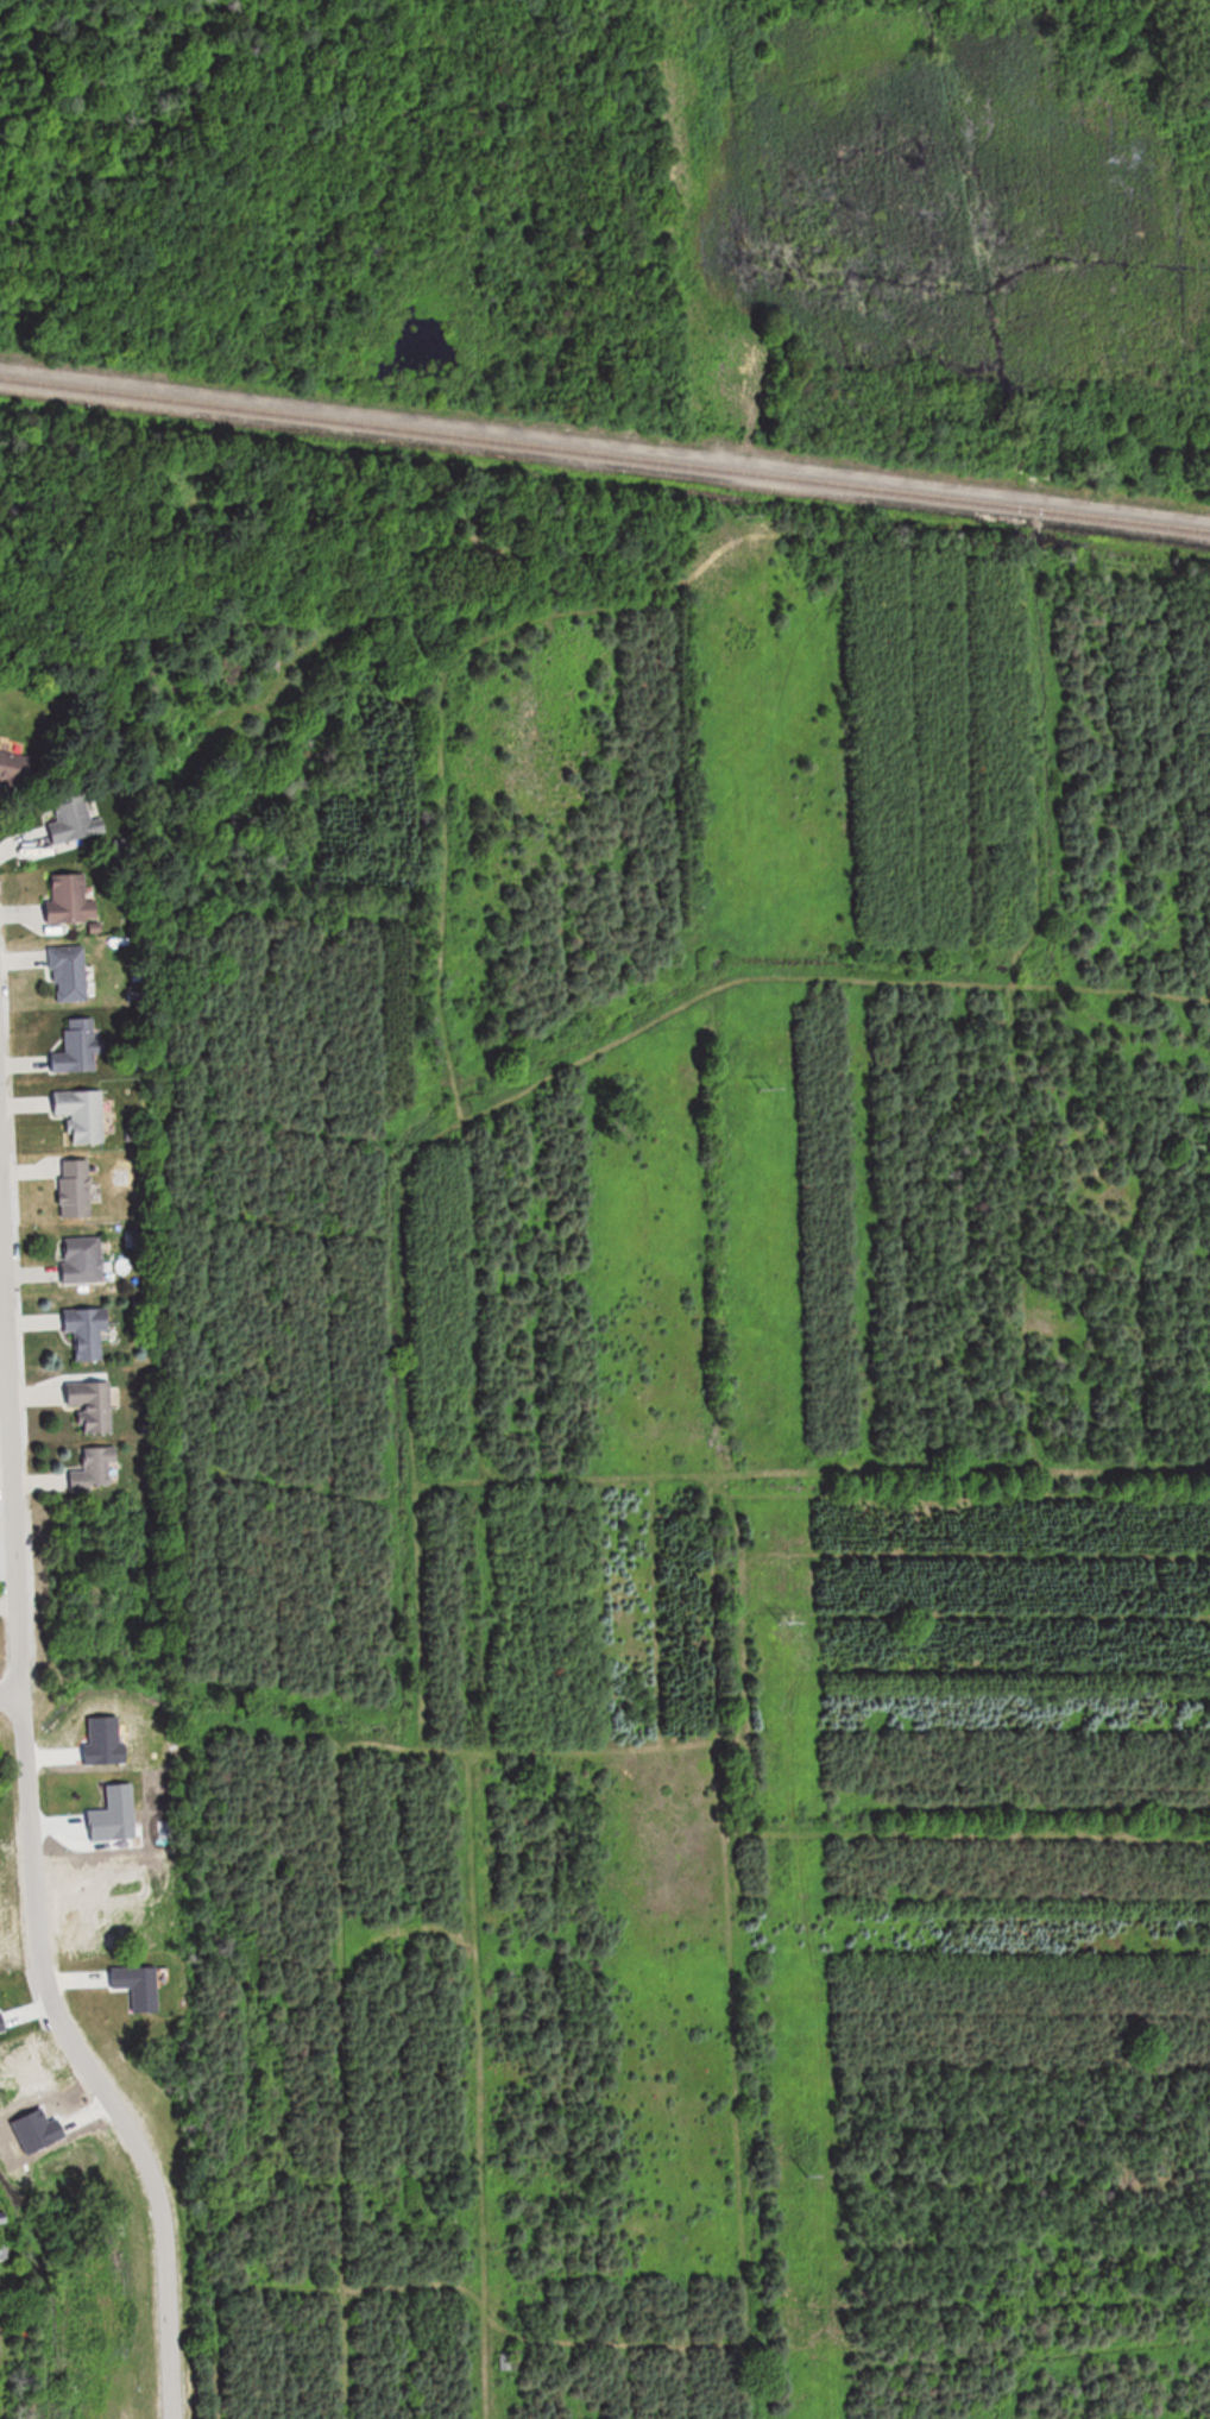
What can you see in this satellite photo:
park: (324, 297)
railway: (605, 453)
power tower: (762, 512)
building: (14, 773)
building: (70, 818)
building: (71, 899)
building: (69, 974)
building: (78, 1047)
power tower: (767, 1088)
building: (83, 1115)
building: (76, 1188)
building: (83, 1259)
building: (88, 1330)
building: (94, 1404)
building: (96, 1469)
power tower: (786, 1609)
road: (8, 1692)
road: (30, 1831)
power tower: (809, 2173)

